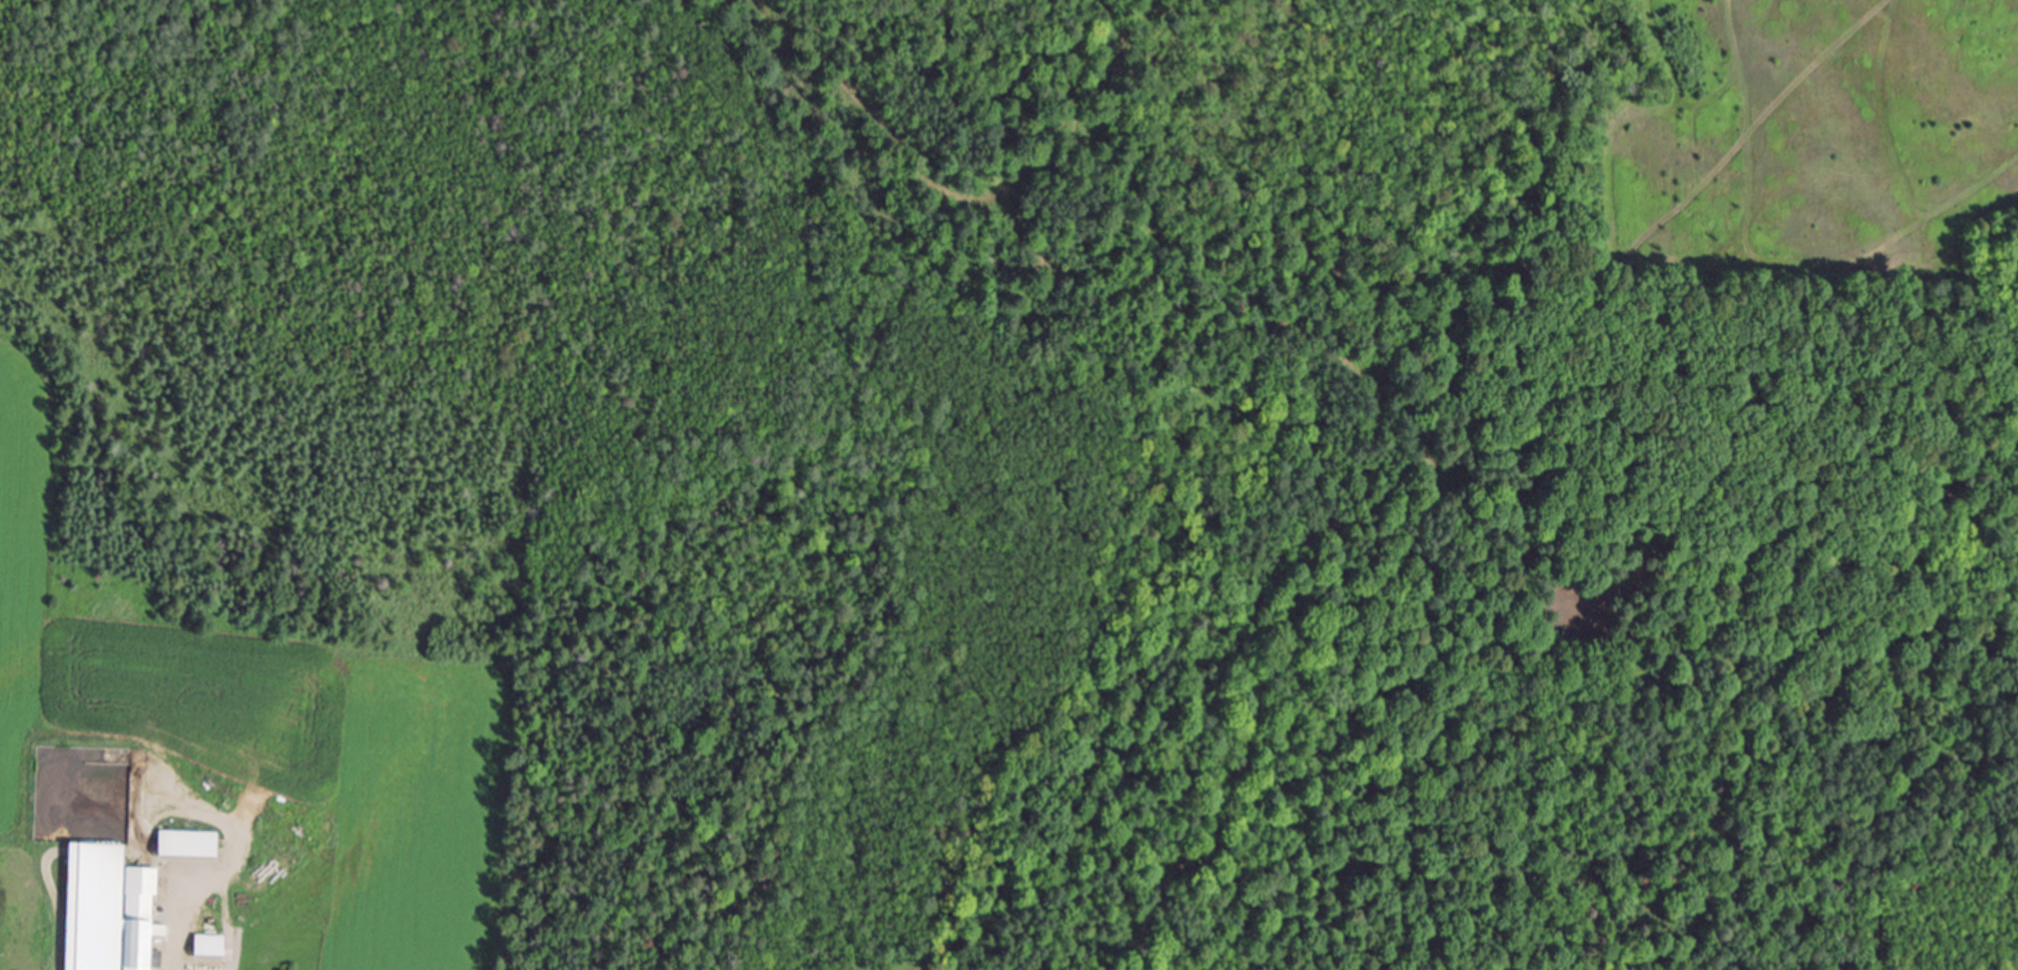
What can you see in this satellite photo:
building: (186, 842)
building: (144, 922)

